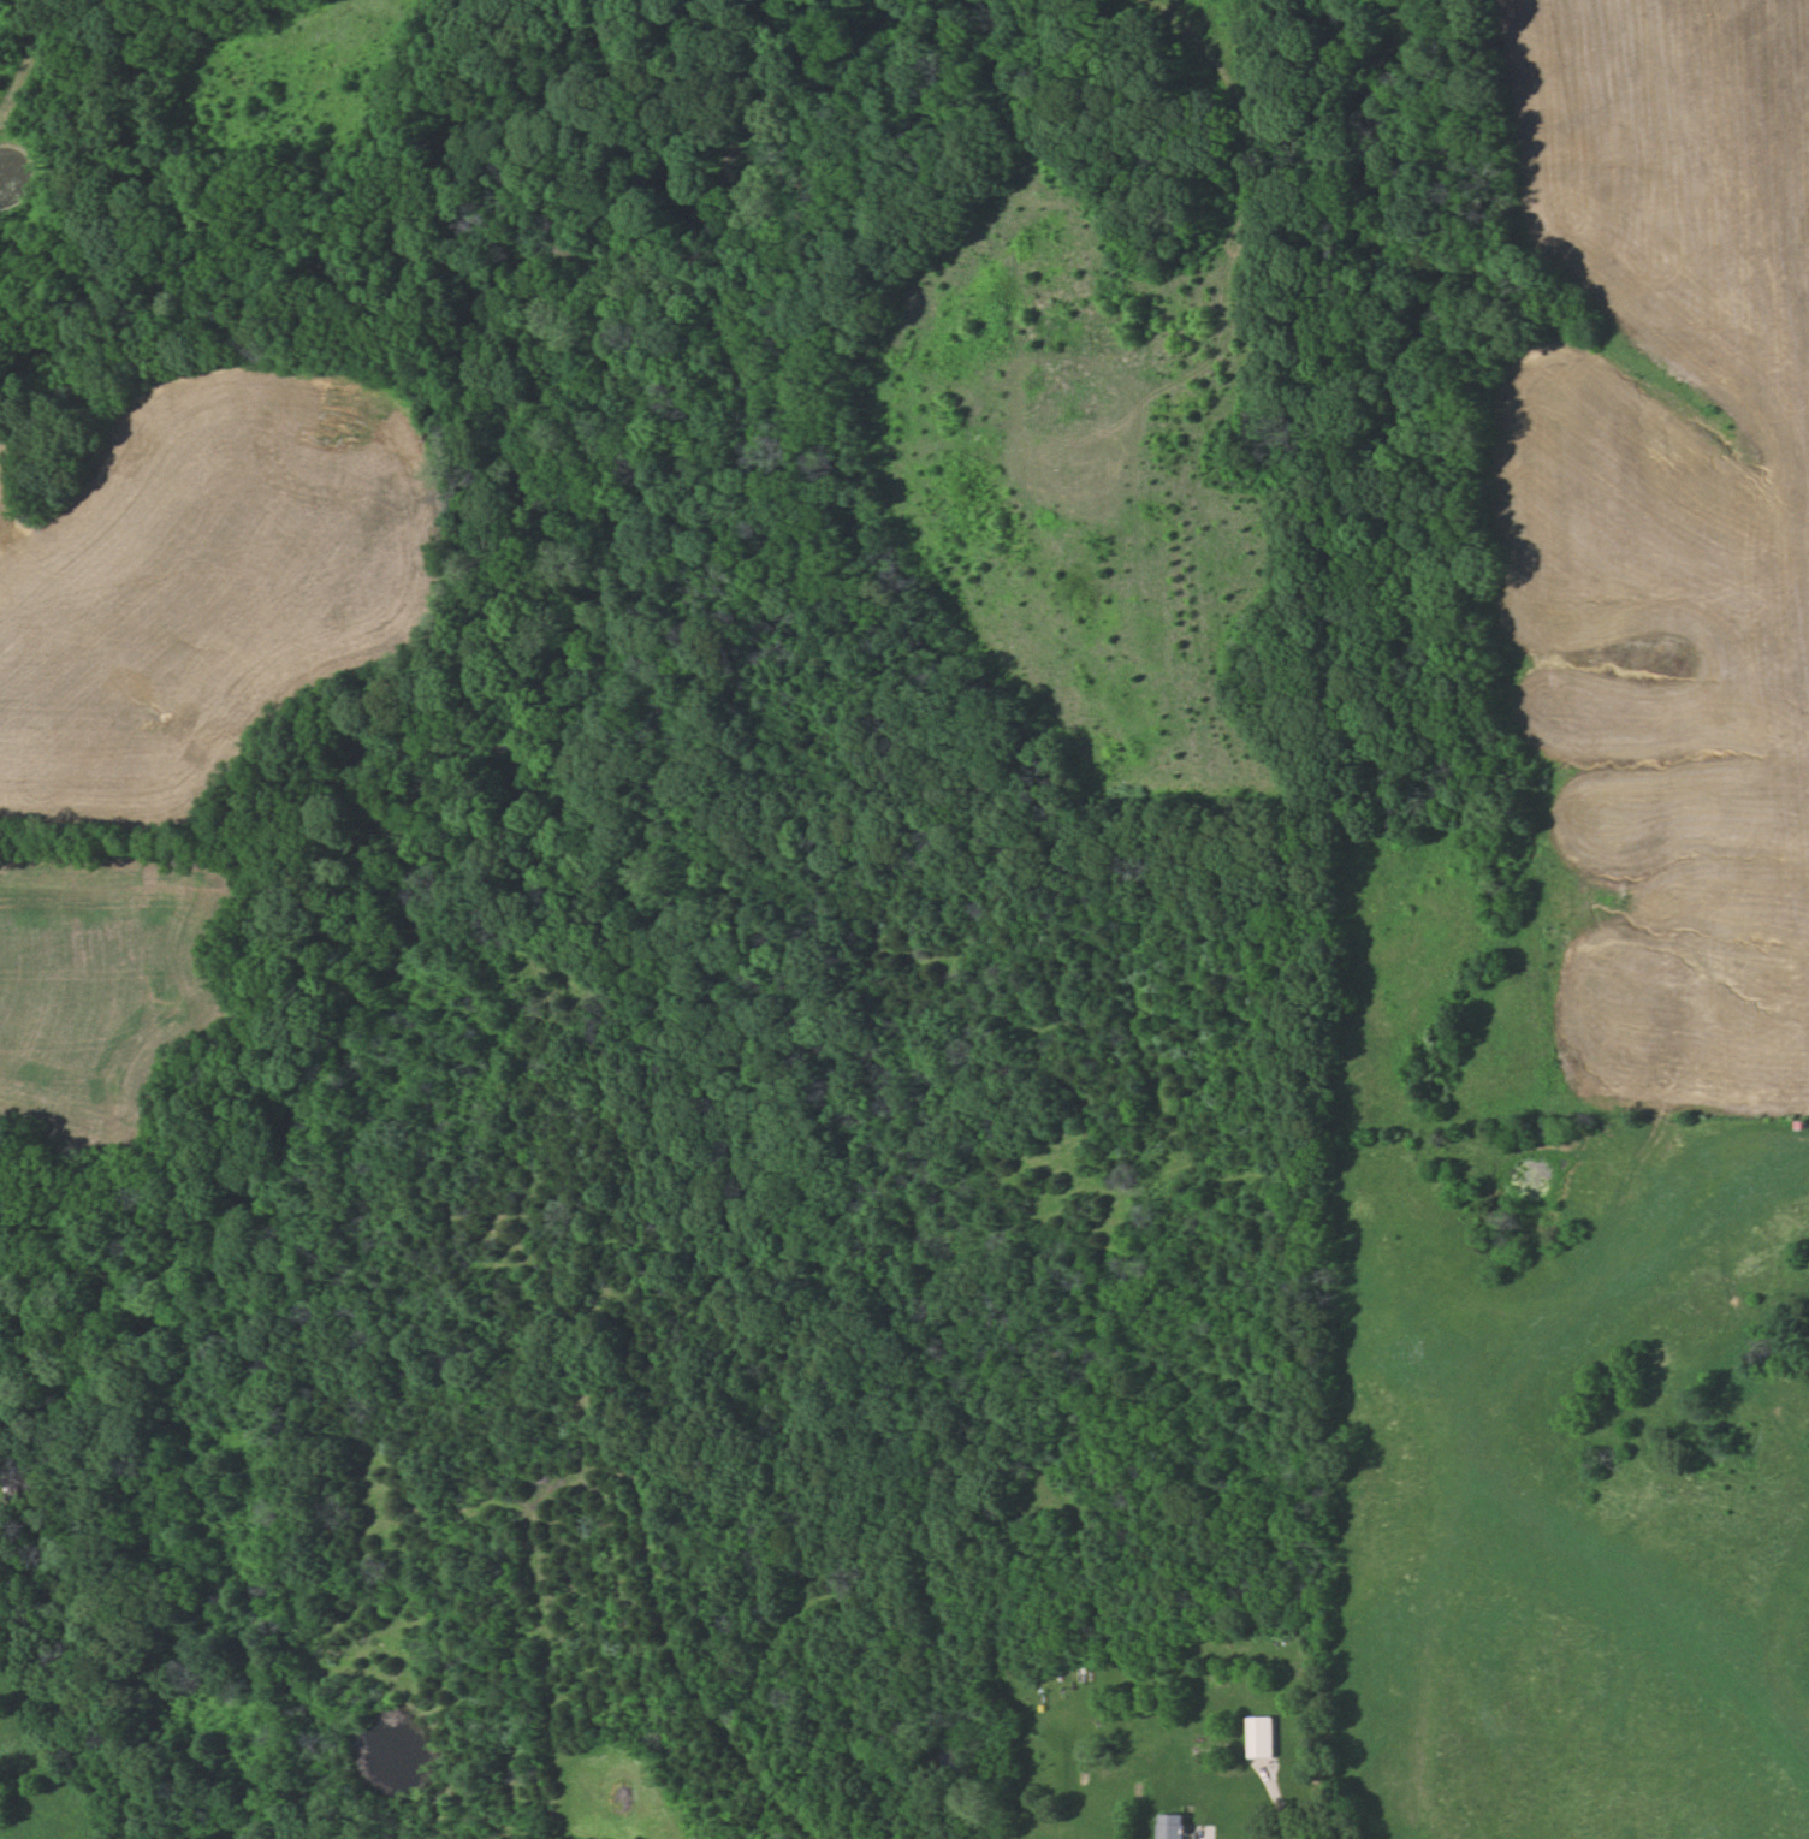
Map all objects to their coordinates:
building: (1259, 1737)
building: (1170, 1826)

